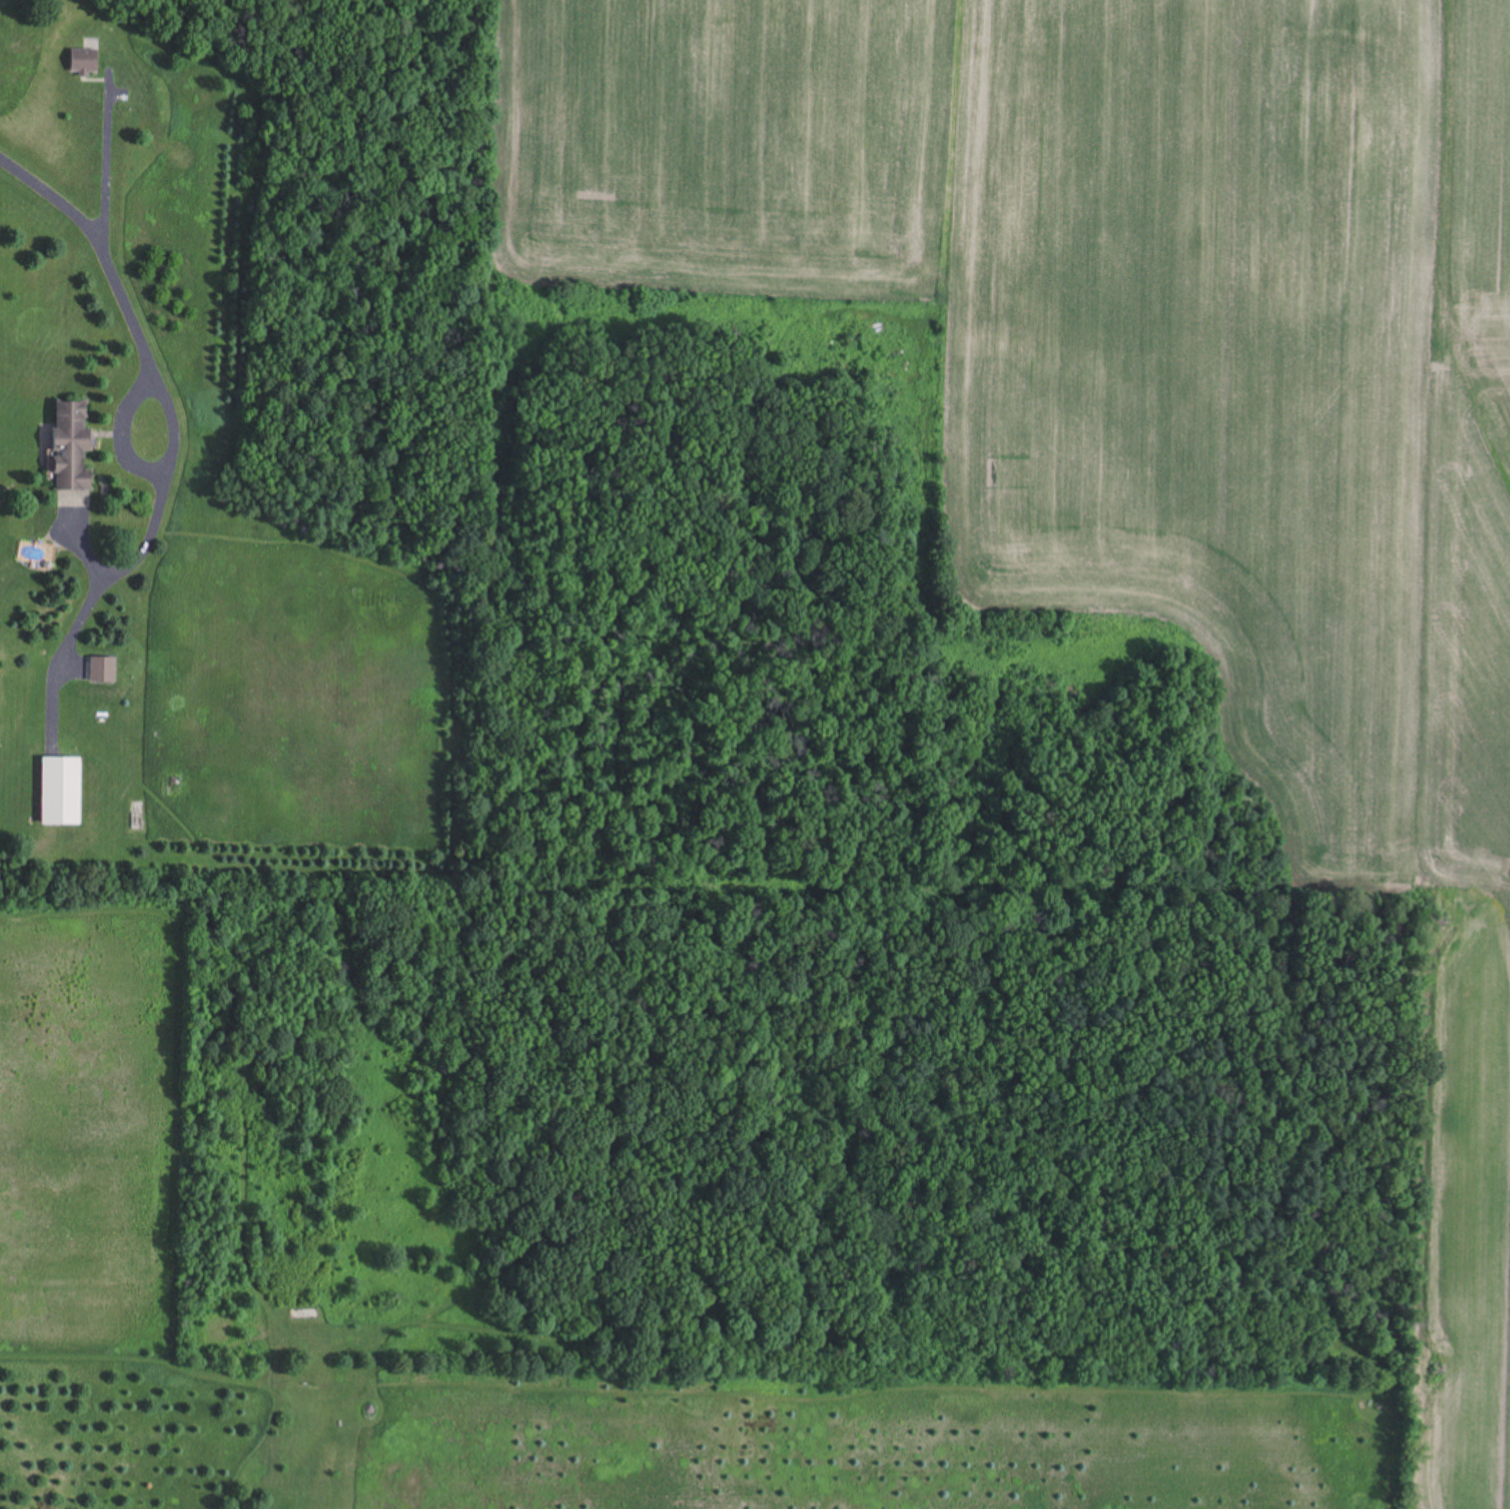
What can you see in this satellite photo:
building: (84, 62)
road: (99, 231)
building: (71, 449)
road: (160, 501)
building: (72, 503)
building: (103, 670)
building: (61, 791)

